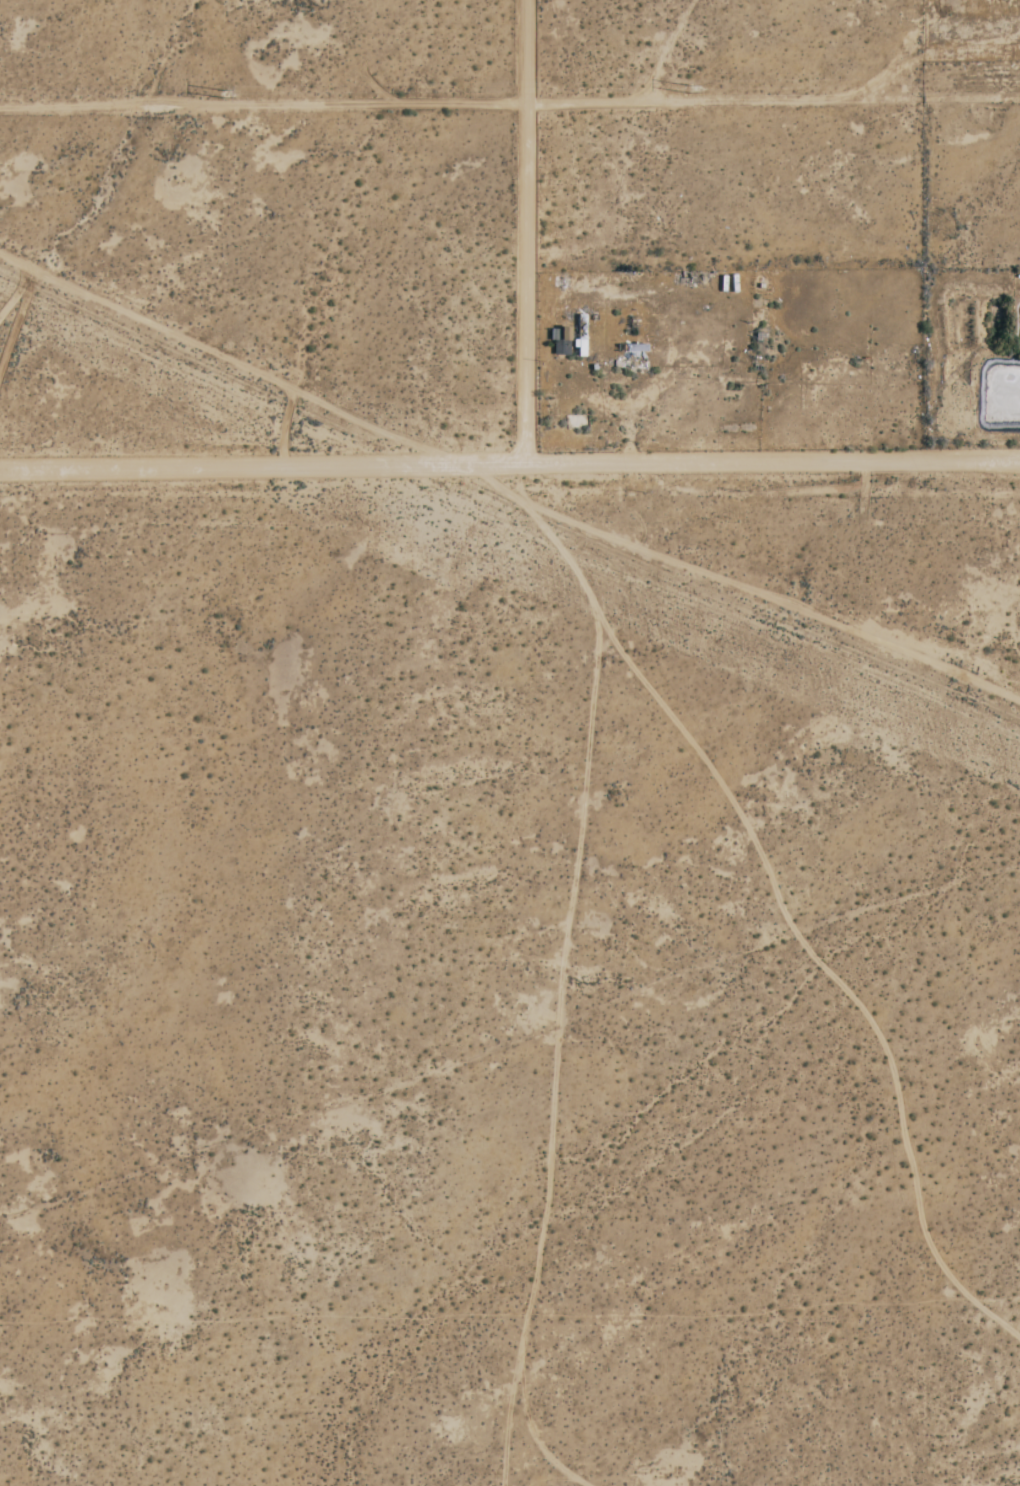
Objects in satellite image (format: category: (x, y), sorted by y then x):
power tower: (679, 88)
power tower: (225, 95)
road: (510, 103)
road: (527, 232)
road: (233, 354)
road: (510, 465)

